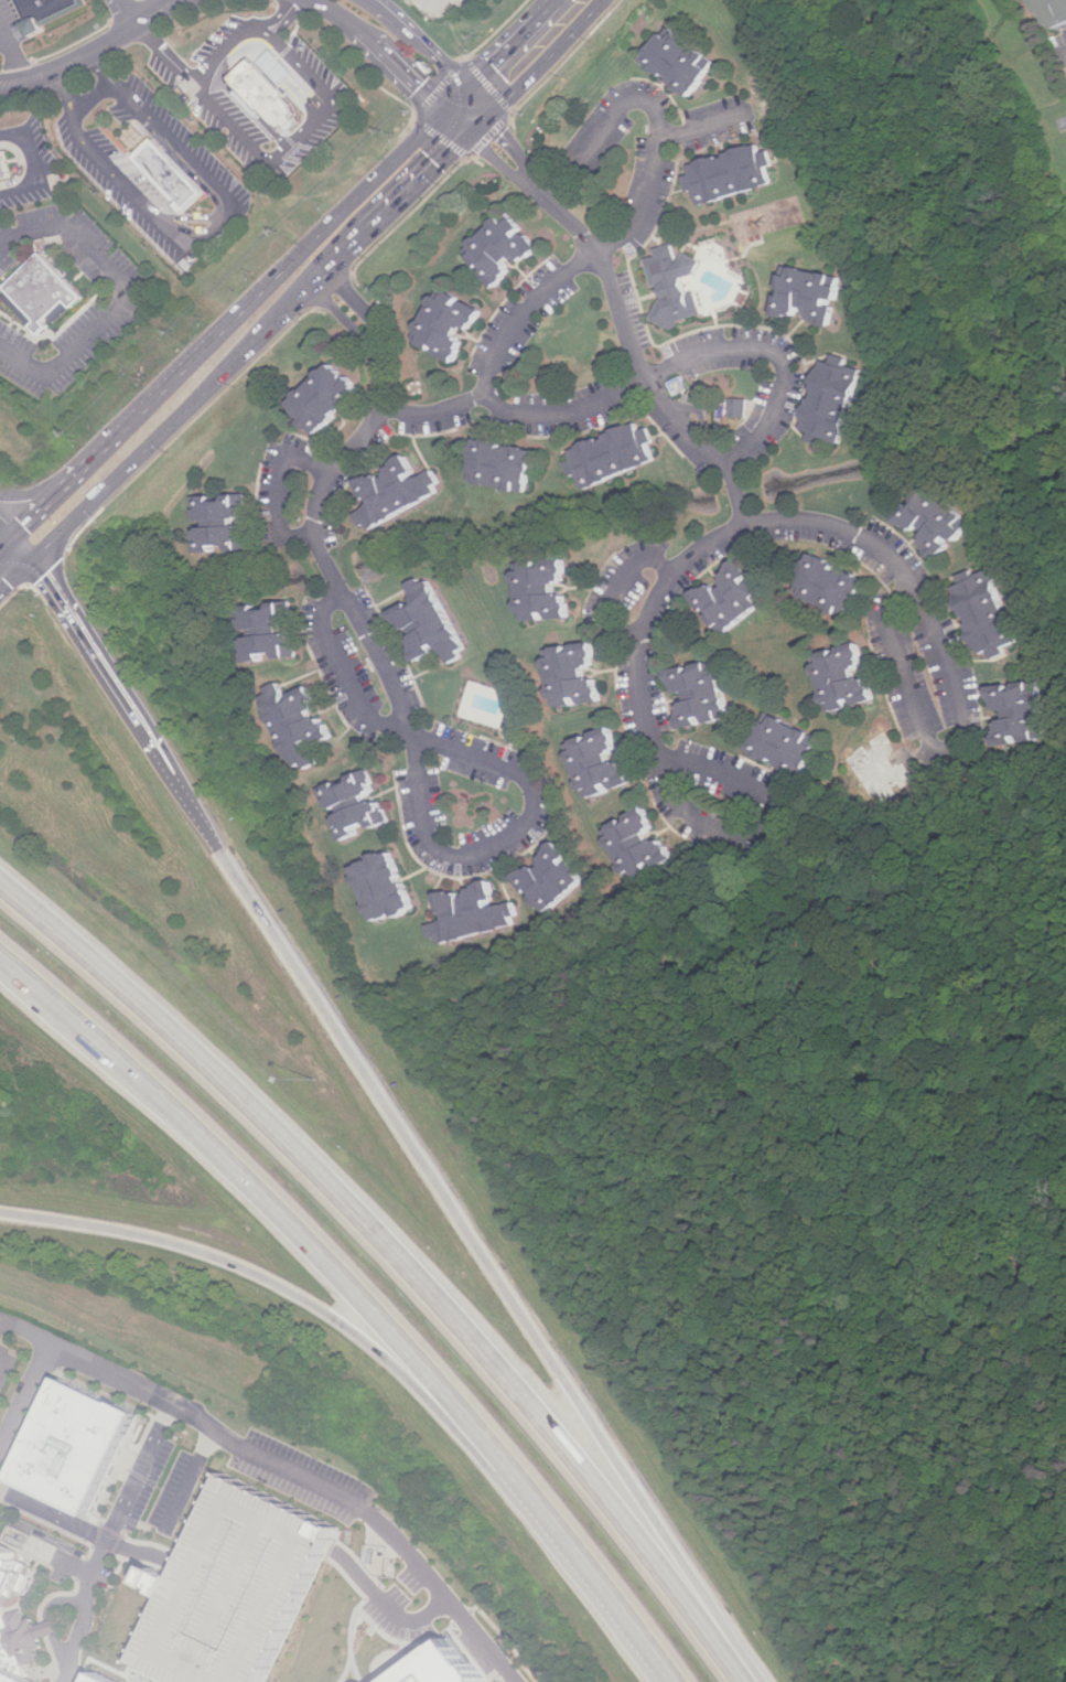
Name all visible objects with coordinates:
road: (439, 1)
road: (384, 9)
building: (50, 10)
road: (131, 12)
building: (1056, 12)
road: (340, 14)
road: (284, 17)
parking lot: (11, 28)
road: (7, 36)
road: (507, 51)
road: (165, 52)
road: (94, 54)
road: (434, 56)
road: (541, 61)
building: (683, 61)
road: (20, 66)
road: (401, 76)
road: (96, 97)
building: (268, 97)
traffic signals: (457, 103)
road: (470, 113)
road: (657, 114)
traffic signals: (483, 122)
road: (698, 127)
road: (260, 154)
road: (39, 163)
building: (6, 165)
building: (733, 175)
building: (171, 176)
parking lot: (152, 184)
road: (536, 186)
road: (322, 233)
road: (208, 235)
road: (9, 246)
building: (506, 249)
building: (671, 285)
building: (42, 294)
building: (812, 294)
road: (130, 299)
building: (452, 324)
road: (240, 353)
road: (773, 354)
road: (486, 388)
road: (660, 394)
building: (329, 398)
building: (838, 401)
building: (737, 407)
road: (435, 408)
road: (95, 457)
building: (615, 457)
building: (506, 465)
building: (399, 492)
road: (279, 493)
road: (39, 496)
road: (11, 518)
building: (939, 521)
road: (758, 522)
building: (224, 523)
traffic signals: (22, 526)
traffic signals: (39, 549)
road: (618, 583)
building: (835, 586)
building: (547, 592)
building: (735, 598)
building: (990, 612)
building: (433, 623)
building: (271, 631)
road: (104, 643)
road: (887, 647)
road: (345, 672)
building: (578, 676)
road: (388, 678)
building: (850, 678)
building: (704, 695)
building: (1023, 714)
building: (301, 719)
building: (513, 720)
building: (788, 744)
building: (604, 763)
building: (886, 769)
building: (358, 804)
road: (771, 819)
building: (644, 845)
building: (554, 879)
building: (387, 887)
building: (475, 913)
road: (250, 1185)
road: (462, 1226)
road: (398, 1257)
road: (260, 1276)
road: (24, 1332)
parking lot: (12, 1359)
road: (24, 1396)
road: (170, 1408)
building: (82, 1445)
road: (192, 1480)
road: (368, 1512)
road: (95, 1533)
road: (574, 1557)
building: (247, 1589)
parking lot: (247, 1589)
road: (60, 1599)
road: (388, 1605)
road: (86, 1610)
road: (356, 1614)
road: (459, 1620)
building: (18, 1621)
road: (52, 1629)
road: (60, 1649)
building: (457, 1669)
road: (348, 1670)
building: (107, 1678)

